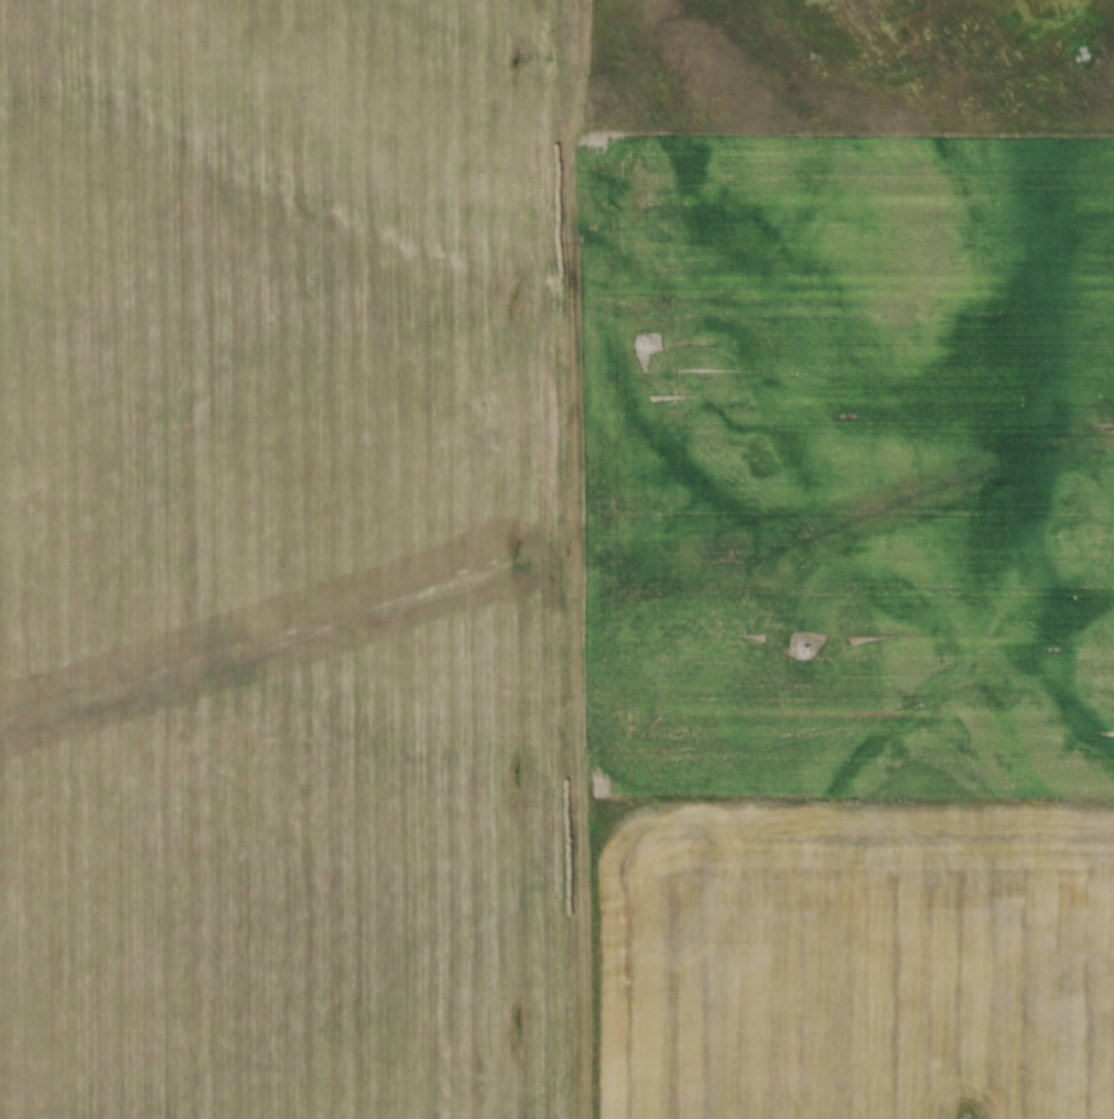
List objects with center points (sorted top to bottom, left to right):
road: (572, 557)

